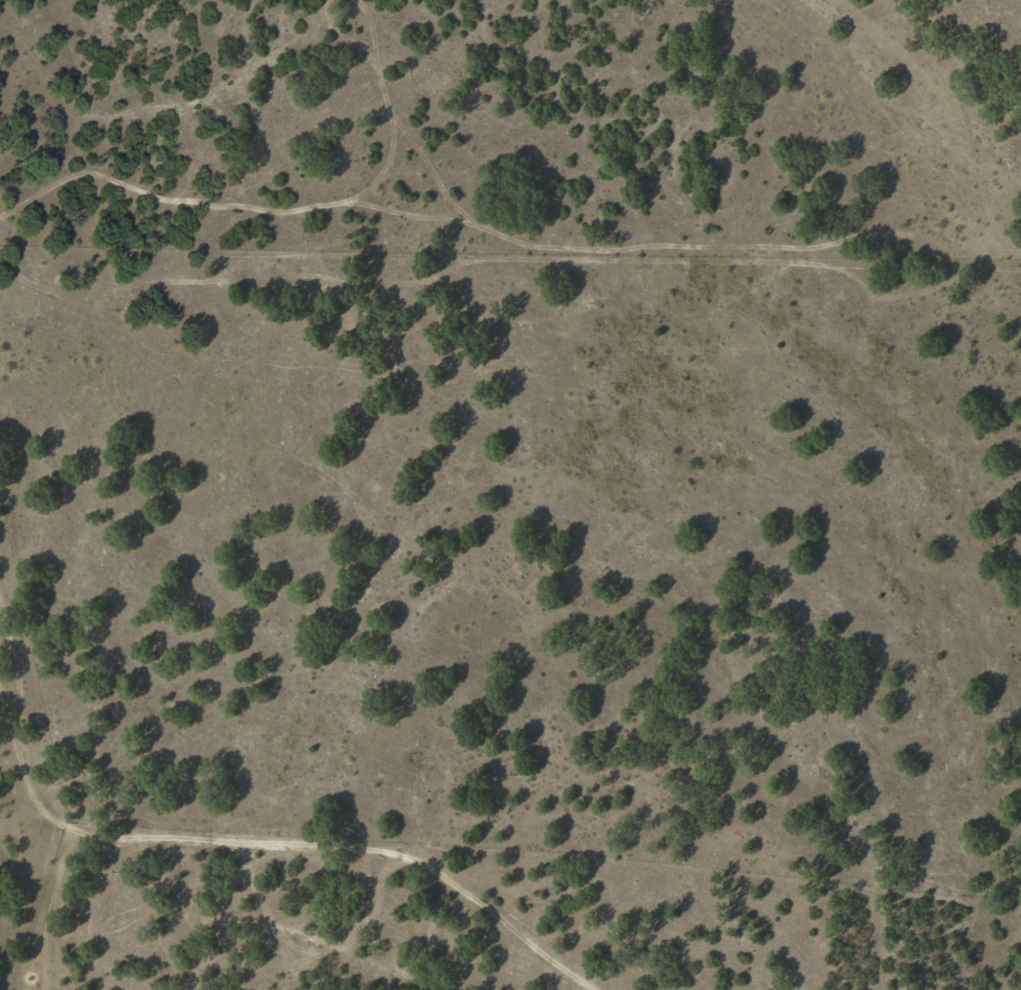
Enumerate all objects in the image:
road: (511, 294)
road: (305, 850)

